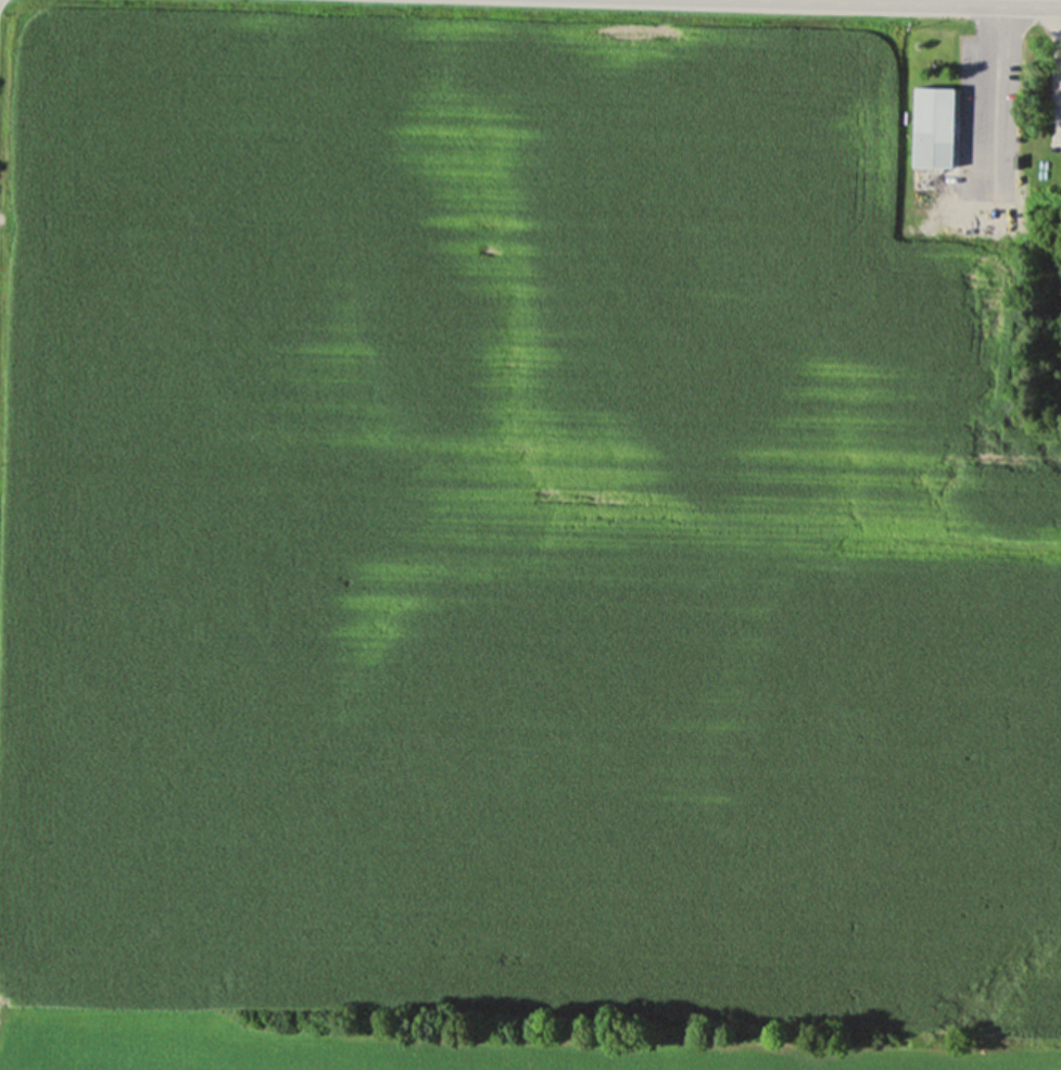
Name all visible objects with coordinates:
road: (958, 2)
road: (1059, 30)
road: (999, 65)
building: (930, 126)

